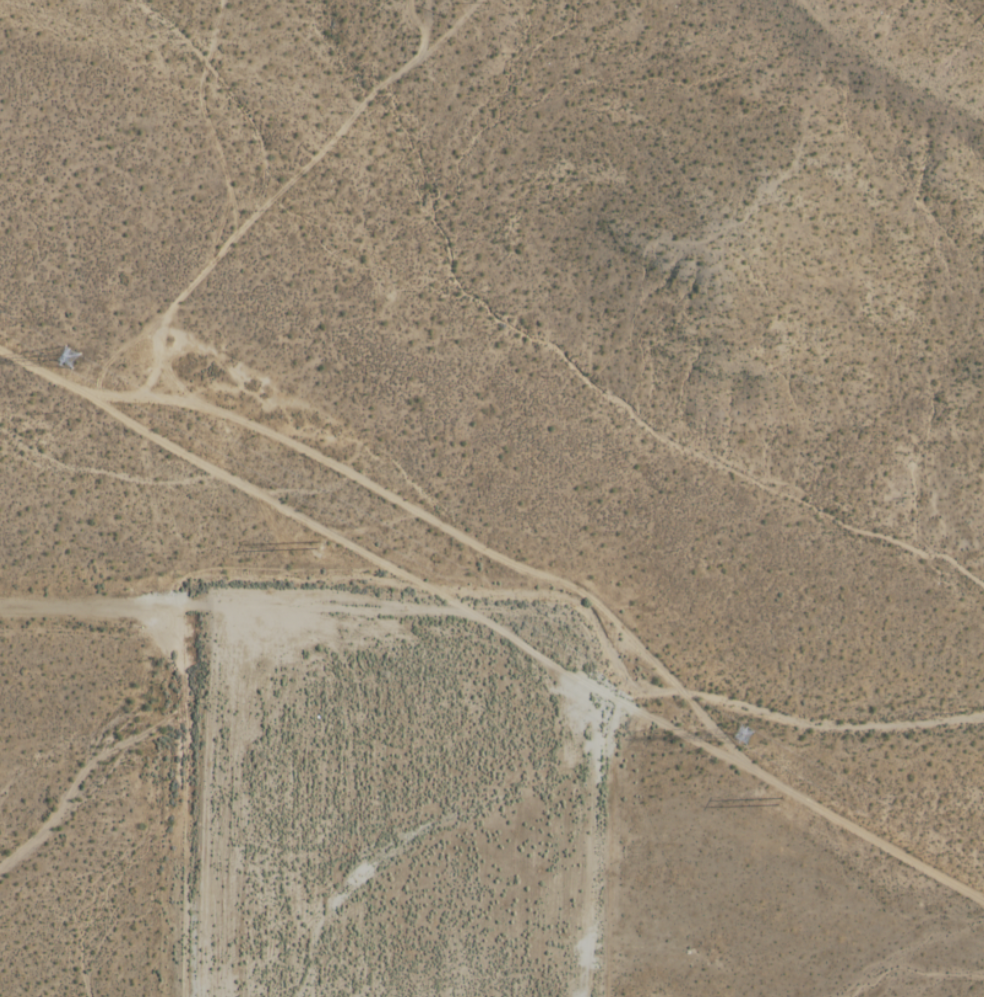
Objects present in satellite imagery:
power tower: (67, 350)
road: (447, 527)
power tower: (321, 539)
road: (378, 559)
road: (104, 601)
power tower: (747, 738)
power tower: (789, 802)
road: (870, 835)

